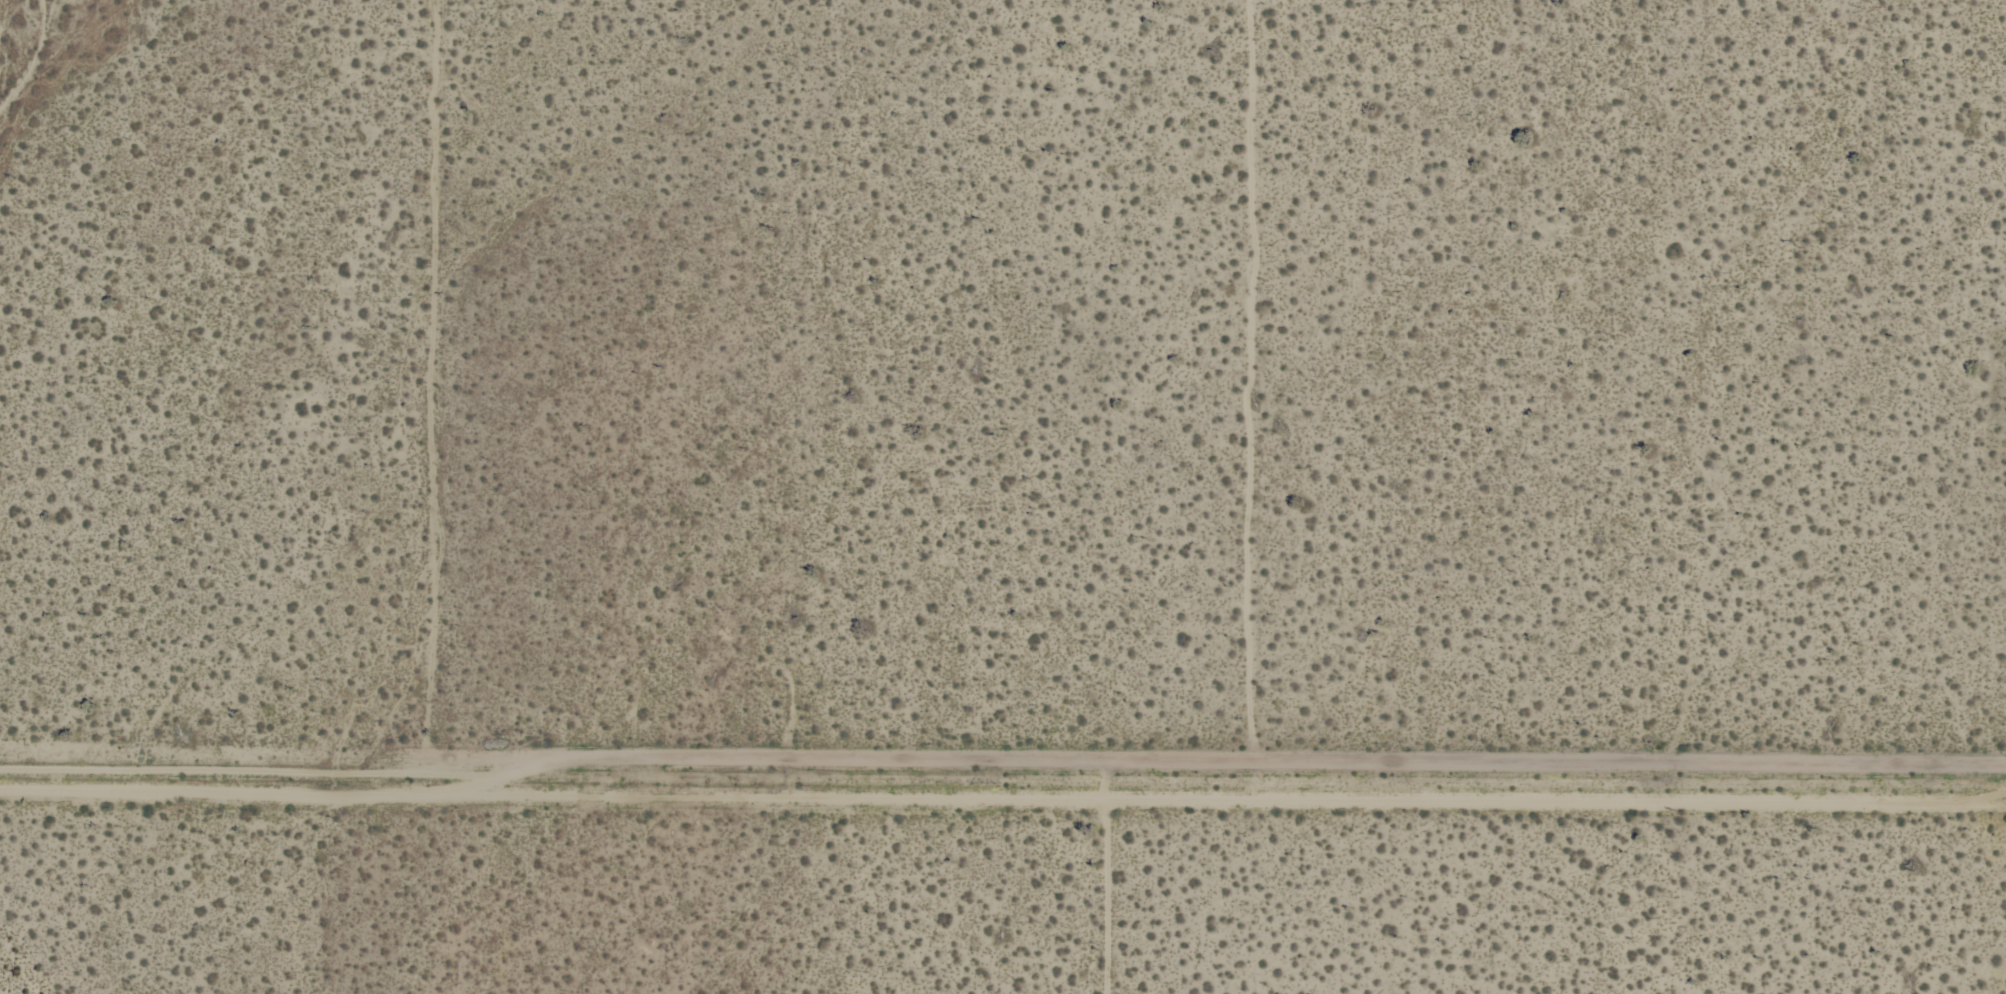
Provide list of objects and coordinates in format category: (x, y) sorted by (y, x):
road: (1249, 376)
road: (423, 384)
road: (1003, 763)
road: (1104, 878)

